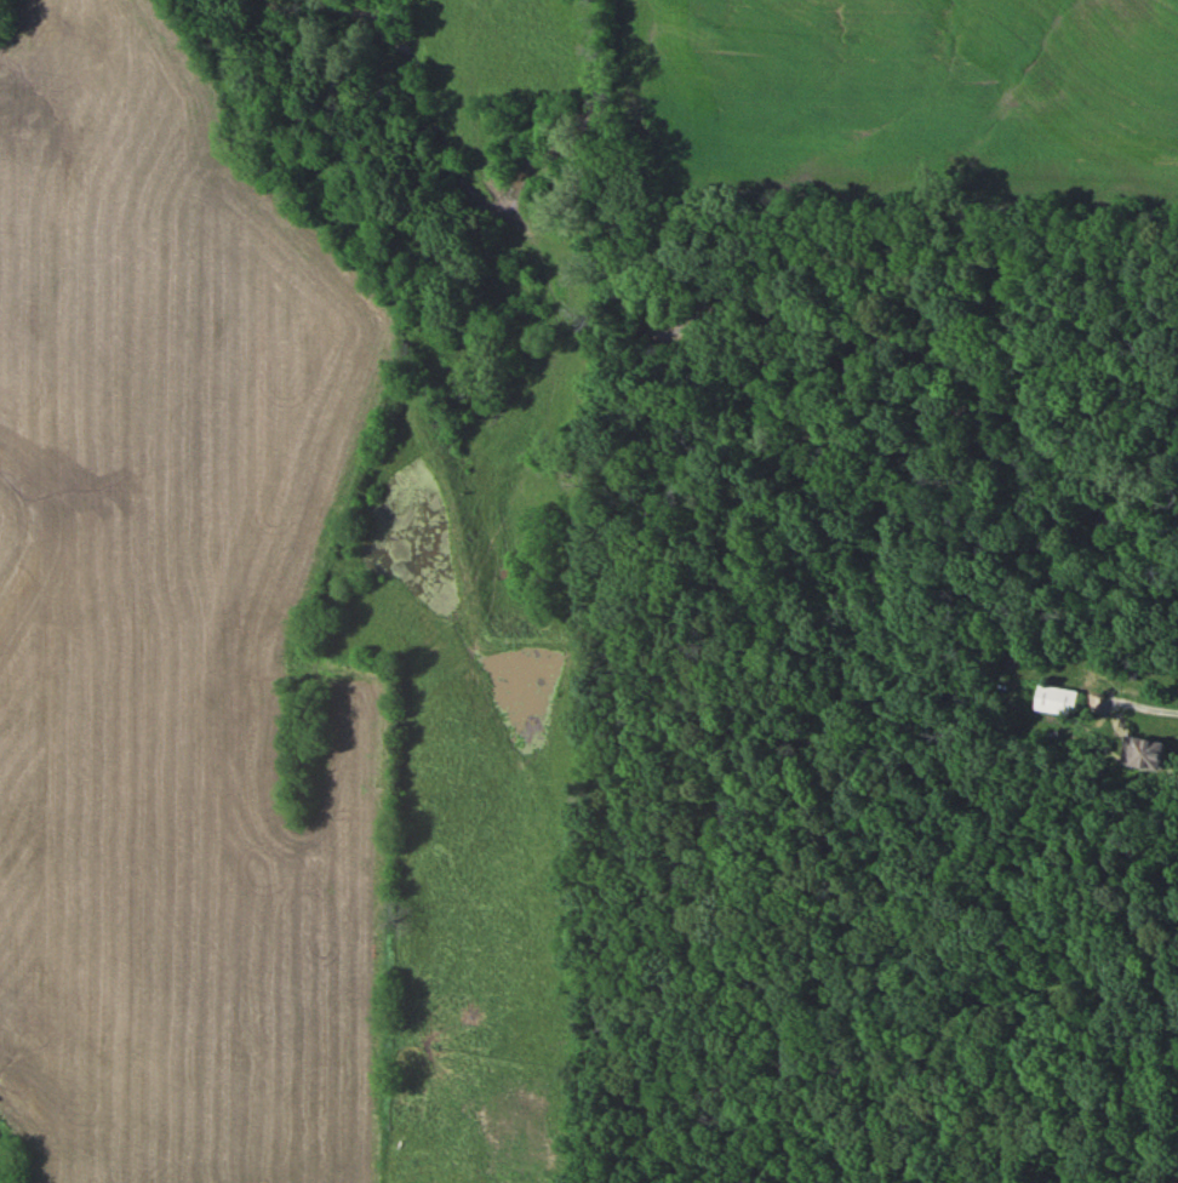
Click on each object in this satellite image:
building: (1059, 698)
building: (1151, 753)

